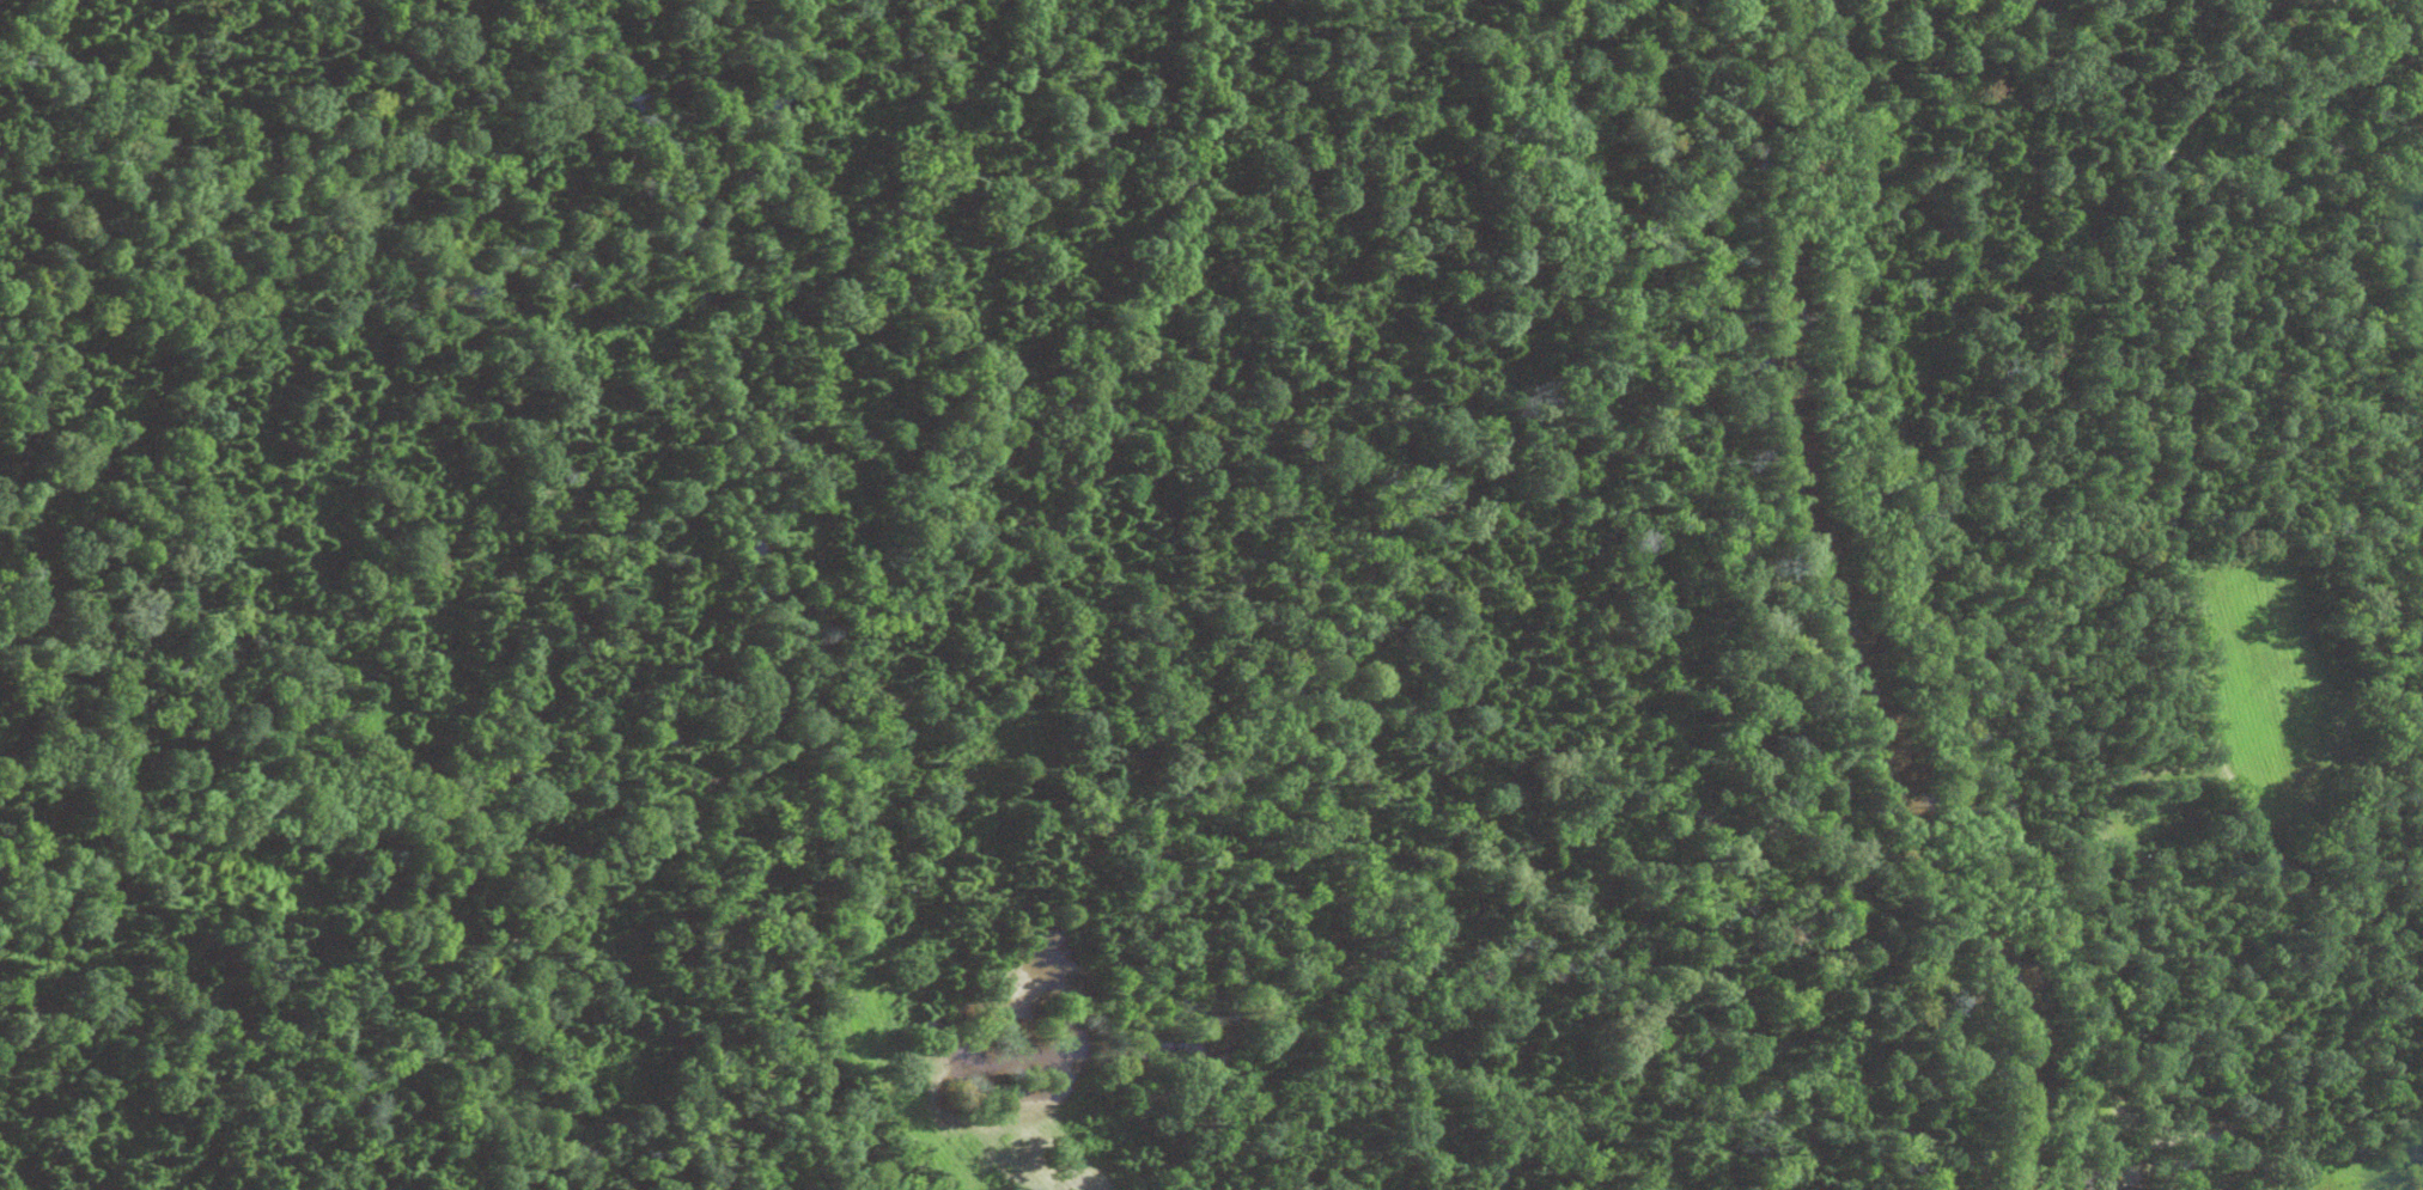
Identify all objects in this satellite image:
building: (2127, 1188)

